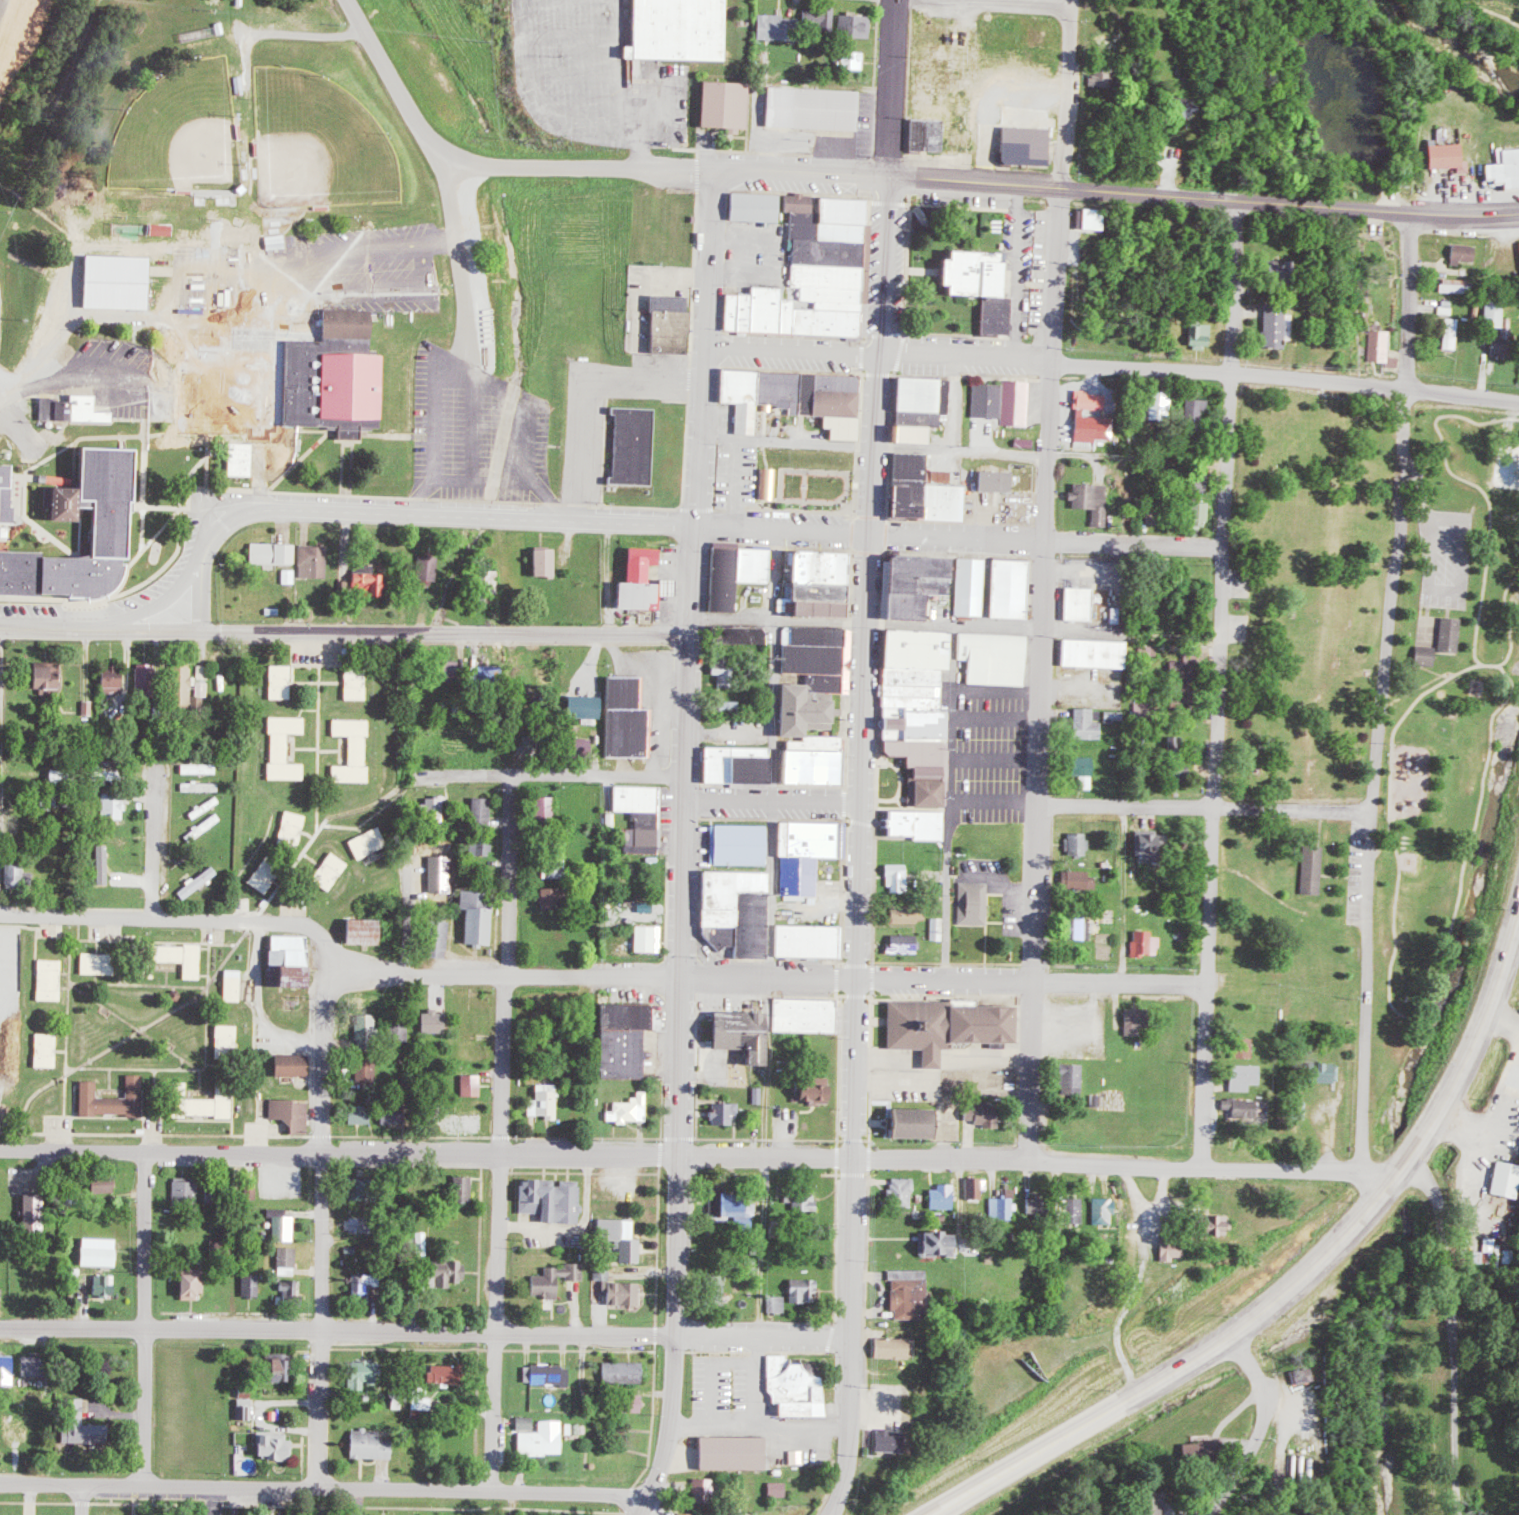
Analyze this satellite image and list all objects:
road: (993, 6)
building: (820, 19)
building: (856, 25)
building: (775, 26)
building: (674, 29)
road: (305, 34)
building: (855, 60)
building: (1104, 76)
road: (616, 85)
building: (717, 105)
building: (1185, 107)
building: (818, 108)
park: (180, 133)
building: (928, 134)
park: (319, 141)
building: (1024, 145)
building: (1448, 156)
road: (449, 163)
building: (1505, 169)
road: (684, 174)
road: (812, 175)
road: (710, 190)
road: (1206, 200)
building: (799, 202)
building: (755, 207)
building: (1092, 218)
building: (162, 229)
building: (1464, 253)
road: (464, 261)
road: (888, 267)
road: (1058, 270)
parking lot: (346, 274)
building: (814, 277)
building: (118, 281)
building: (1457, 285)
road: (273, 289)
building: (1495, 312)
building: (662, 325)
building: (1275, 326)
building: (1454, 333)
building: (1200, 335)
building: (1503, 339)
building: (1381, 345)
road: (794, 350)
building: (1395, 361)
road: (703, 365)
road: (1230, 373)
building: (330, 374)
road: (81, 375)
parking lot: (123, 375)
road: (1201, 375)
building: (795, 397)
building: (205, 399)
building: (923, 400)
building: (989, 400)
building: (1018, 402)
building: (1161, 402)
building: (75, 409)
building: (1198, 411)
building: (1094, 417)
road: (17, 427)
parking lot: (482, 432)
building: (909, 434)
road: (788, 441)
building: (627, 446)
road: (965, 451)
building: (241, 459)
building: (9, 470)
building: (996, 481)
building: (769, 483)
building: (1200, 483)
road: (1418, 487)
building: (923, 491)
building: (86, 494)
building: (1093, 500)
road: (419, 505)
road: (559, 510)
building: (1198, 514)
road: (499, 516)
road: (1049, 540)
building: (273, 553)
parking lot: (1447, 558)
building: (316, 561)
building: (544, 562)
building: (910, 564)
building: (15, 565)
building: (430, 568)
building: (730, 573)
building: (293, 576)
building: (493, 577)
building: (369, 580)
building: (641, 582)
building: (816, 583)
building: (971, 586)
building: (1006, 587)
building: (906, 594)
building: (1075, 604)
road: (778, 621)
road: (983, 628)
road: (337, 631)
building: (1446, 632)
building: (742, 634)
building: (911, 647)
building: (1091, 653)
building: (1424, 654)
building: (993, 657)
building: (356, 669)
building: (449, 669)
building: (483, 674)
building: (45, 676)
building: (912, 676)
building: (1180, 677)
building: (110, 679)
building: (145, 679)
building: (204, 681)
building: (283, 681)
building: (182, 684)
building: (909, 690)
road: (1382, 692)
building: (908, 701)
building: (587, 706)
building: (801, 712)
building: (1116, 717)
park: (1450, 718)
building: (624, 719)
building: (913, 722)
building: (1089, 724)
building: (578, 746)
building: (287, 747)
building: (355, 750)
building: (918, 757)
building: (1085, 765)
building: (735, 767)
building: (813, 767)
building: (201, 768)
building: (113, 775)
road: (553, 776)
building: (922, 792)
building: (634, 797)
road: (773, 802)
building: (116, 806)
building: (546, 807)
building: (436, 808)
building: (483, 811)
road: (1207, 812)
building: (643, 818)
building: (912, 825)
building: (294, 829)
building: (639, 839)
building: (371, 843)
building: (1079, 844)
building: (737, 845)
building: (483, 846)
road: (1041, 851)
road: (154, 854)
building: (805, 856)
road: (1212, 858)
building: (105, 864)
building: (556, 869)
building: (1311, 869)
building: (333, 871)
building: (267, 876)
building: (899, 877)
building: (1079, 881)
building: (200, 882)
building: (551, 898)
building: (975, 903)
road: (446, 908)
building: (731, 909)
building: (909, 914)
building: (476, 918)
building: (940, 928)
building: (1079, 929)
building: (361, 931)
building: (647, 938)
building: (438, 939)
building: (802, 940)
building: (905, 943)
building: (1147, 944)
building: (174, 958)
building: (288, 961)
building: (98, 963)
road: (421, 968)
building: (51, 980)
road: (1034, 983)
building: (234, 985)
building: (802, 1014)
building: (622, 1015)
building: (1134, 1017)
building: (436, 1021)
road: (680, 1022)
road: (857, 1025)
building: (938, 1026)
building: (369, 1029)
building: (402, 1029)
building: (733, 1032)
building: (227, 1039)
building: (1243, 1048)
building: (47, 1050)
building: (618, 1052)
building: (286, 1066)
building: (1326, 1072)
building: (368, 1074)
building: (1245, 1077)
building: (1073, 1082)
building: (472, 1085)
building: (812, 1090)
building: (114, 1099)
building: (546, 1102)
building: (200, 1103)
road: (62, 1109)
building: (1244, 1109)
building: (1302, 1109)
building: (631, 1110)
building: (724, 1113)
building: (981, 1113)
building: (360, 1114)
building: (294, 1115)
building: (391, 1115)
building: (905, 1122)
road: (1327, 1126)
road: (502, 1135)
road: (160, 1152)
road: (587, 1157)
road: (1126, 1167)
building: (1507, 1179)
building: (102, 1185)
building: (976, 1186)
building: (464, 1188)
building: (251, 1190)
building: (903, 1191)
building: (187, 1192)
building: (944, 1196)
building: (552, 1198)
building: (806, 1199)
building: (732, 1205)
building: (1005, 1205)
building: (1037, 1207)
building: (1071, 1210)
building: (1104, 1210)
building: (32, 1213)
road: (322, 1224)
building: (1214, 1224)
building: (278, 1229)
building: (622, 1236)
building: (938, 1242)
building: (424, 1243)
building: (1171, 1250)
building: (102, 1251)
building: (280, 1257)
building: (556, 1278)
building: (104, 1284)
building: (190, 1284)
building: (252, 1284)
building: (289, 1287)
building: (362, 1287)
building: (618, 1288)
building: (803, 1289)
building: (717, 1290)
building: (909, 1292)
road: (1291, 1292)
building: (778, 1303)
road: (145, 1321)
road: (424, 1331)
building: (891, 1347)
building: (8, 1365)
building: (280, 1369)
building: (623, 1371)
building: (362, 1373)
building: (549, 1373)
building: (444, 1375)
building: (1304, 1376)
building: (794, 1388)
building: (632, 1402)
road: (78, 1408)
building: (527, 1422)
building: (77, 1423)
road: (1265, 1431)
building: (545, 1439)
building: (891, 1440)
building: (370, 1444)
building: (274, 1445)
building: (726, 1454)
building: (705, 1489)
building: (779, 1489)
road: (322, 1491)
road: (82, 1502)
building: (1154, 1502)
road: (212, 1503)
building: (688, 1514)

